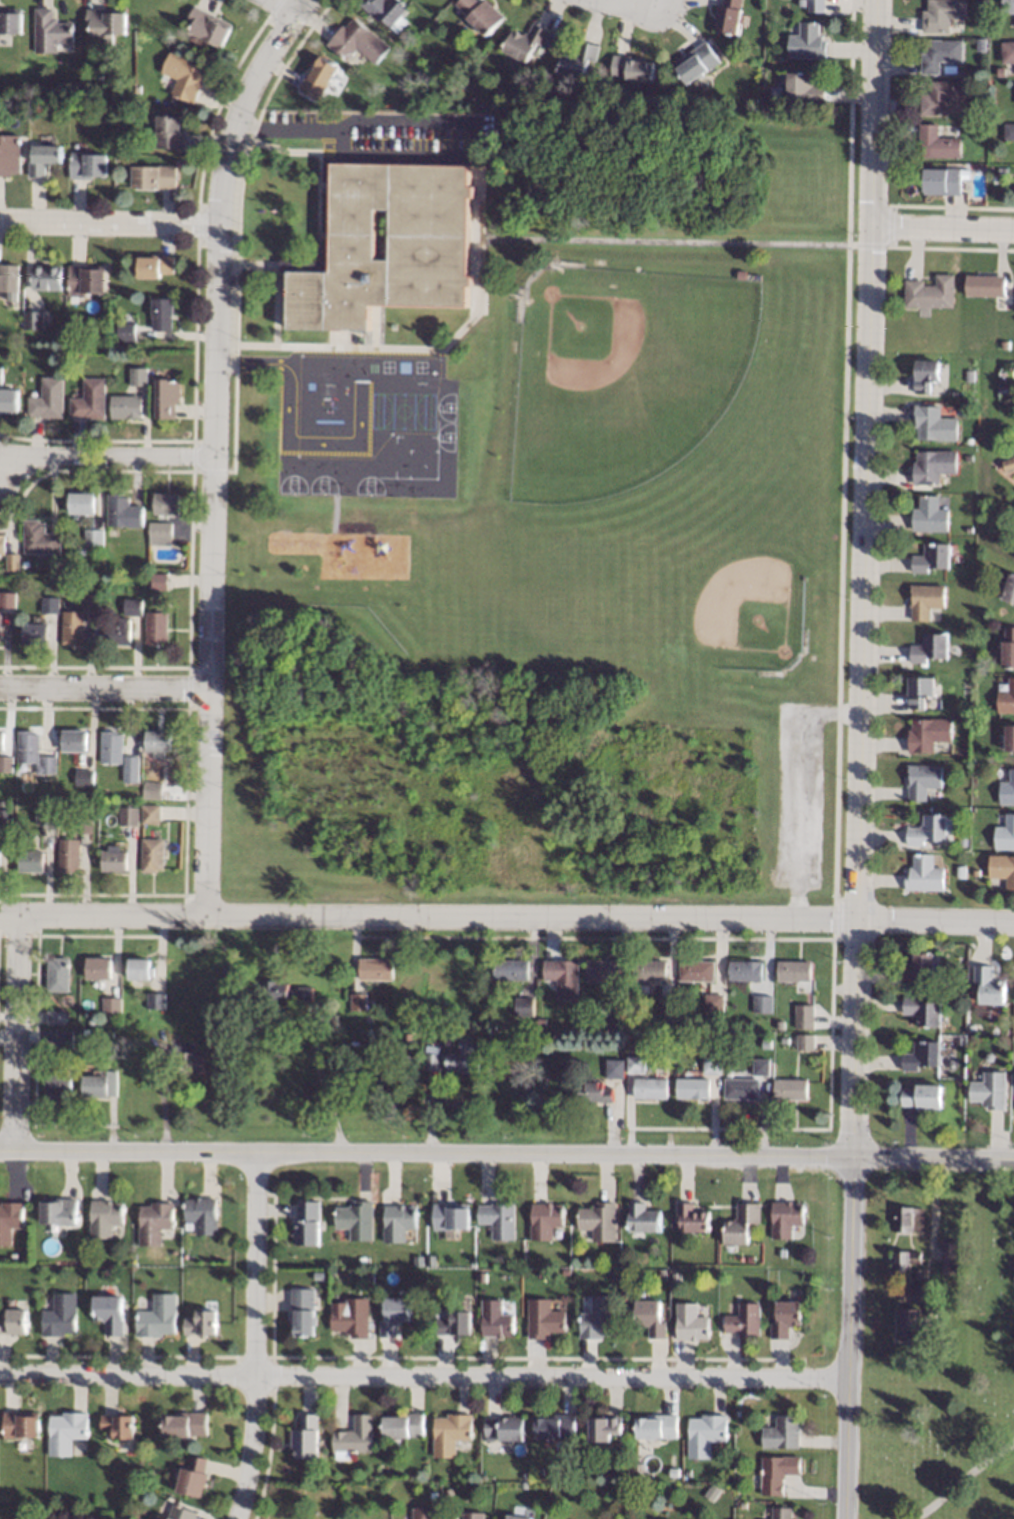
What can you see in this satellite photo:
building: (983, 2)
road: (622, 4)
building: (815, 6)
building: (1008, 6)
road: (284, 8)
building: (387, 11)
building: (479, 14)
building: (941, 14)
building: (728, 16)
building: (10, 20)
building: (106, 22)
building: (208, 26)
building: (994, 30)
building: (49, 31)
building: (357, 42)
building: (524, 42)
building: (806, 42)
building: (984, 51)
building: (1008, 51)
building: (940, 54)
building: (576, 60)
building: (697, 63)
building: (632, 69)
building: (1001, 72)
building: (184, 76)
building: (318, 77)
building: (98, 79)
building: (803, 87)
building: (453, 88)
building: (137, 89)
building: (941, 96)
building: (9, 100)
building: (537, 107)
building: (128, 116)
road: (442, 125)
building: (1009, 131)
building: (170, 132)
building: (937, 143)
building: (10, 155)
building: (43, 158)
building: (138, 158)
building: (87, 165)
building: (1003, 169)
building: (154, 177)
building: (943, 180)
road: (109, 222)
road: (943, 231)
road: (675, 241)
building: (428, 249)
building: (155, 266)
building: (632, 270)
building: (46, 277)
building: (10, 280)
building: (86, 280)
building: (985, 286)
building: (931, 293)
building: (161, 314)
building: (33, 320)
building: (388, 326)
building: (98, 330)
building: (125, 331)
park: (589, 338)
building: (353, 339)
building: (1005, 345)
road: (435, 348)
building: (1, 375)
building: (926, 375)
building: (969, 375)
building: (138, 377)
building: (1002, 380)
building: (1004, 392)
building: (166, 398)
building: (48, 399)
building: (9, 400)
building: (90, 400)
building: (1012, 402)
building: (126, 407)
building: (934, 424)
road: (213, 445)
road: (105, 457)
building: (1008, 463)
building: (933, 466)
building: (81, 503)
building: (166, 504)
building: (122, 512)
building: (930, 515)
building: (970, 528)
building: (159, 533)
building: (93, 537)
building: (38, 538)
building: (1, 544)
building: (998, 547)
building: (932, 557)
building: (99, 560)
building: (11, 562)
building: (24, 564)
road: (864, 576)
building: (159, 581)
building: (1009, 590)
park: (738, 596)
building: (8, 600)
building: (925, 600)
building: (93, 602)
building: (50, 605)
building: (133, 607)
building: (0, 622)
building: (72, 627)
building: (156, 628)
building: (36, 633)
building: (119, 633)
building: (930, 647)
building: (1008, 647)
building: (721, 670)
road: (103, 690)
building: (919, 691)
building: (1006, 697)
building: (927, 734)
building: (1009, 737)
building: (1, 740)
building: (75, 740)
building: (158, 740)
building: (112, 747)
building: (34, 753)
building: (6, 764)
building: (132, 769)
building: (85, 778)
building: (922, 780)
building: (153, 790)
building: (1007, 790)
building: (70, 791)
building: (150, 814)
building: (44, 815)
building: (129, 816)
building: (5, 817)
building: (84, 825)
building: (930, 830)
building: (1005, 833)
building: (963, 840)
building: (68, 855)
building: (152, 855)
building: (115, 860)
building: (31, 861)
building: (1002, 869)
building: (975, 872)
building: (924, 874)
road: (507, 918)
building: (920, 967)
building: (98, 968)
building: (140, 969)
building: (376, 969)
building: (225, 970)
building: (510, 970)
building: (649, 970)
building: (696, 970)
building: (602, 971)
building: (744, 971)
building: (793, 971)
building: (58, 975)
building: (562, 977)
building: (989, 986)
building: (285, 992)
building: (156, 1001)
building: (358, 1002)
building: (713, 1003)
building: (762, 1004)
building: (111, 1005)
building: (666, 1005)
building: (523, 1006)
building: (923, 1011)
building: (615, 1014)
building: (56, 1017)
building: (804, 1017)
building: (322, 1018)
building: (779, 1025)
building: (971, 1028)
building: (86, 1031)
road: (18, 1032)
building: (335, 1032)
building: (109, 1035)
building: (752, 1037)
building: (64, 1038)
building: (407, 1039)
building: (398, 1040)
building: (784, 1040)
building: (804, 1042)
building: (400, 1050)
building: (922, 1055)
building: (990, 1057)
building: (463, 1059)
building: (190, 1060)
building: (432, 1061)
building: (713, 1064)
building: (636, 1065)
building: (762, 1067)
building: (615, 1068)
building: (142, 1079)
building: (100, 1084)
building: (59, 1086)
building: (651, 1088)
building: (694, 1088)
building: (742, 1088)
building: (790, 1089)
building: (990, 1090)
building: (595, 1092)
road: (325, 1095)
building: (922, 1097)
road: (507, 1151)
building: (58, 1211)
building: (201, 1215)
building: (450, 1216)
building: (104, 1218)
building: (785, 1218)
building: (497, 1219)
building: (642, 1219)
building: (691, 1219)
building: (10, 1220)
building: (355, 1220)
building: (545, 1220)
building: (907, 1220)
building: (598, 1221)
building: (397, 1222)
building: (154, 1223)
building: (306, 1223)
building: (741, 1224)
building: (953, 1257)
building: (749, 1259)
building: (905, 1259)
building: (361, 1260)
building: (615, 1262)
building: (615, 1276)
building: (661, 1277)
building: (676, 1278)
building: (369, 1279)
building: (913, 1293)
building: (10, 1302)
building: (930, 1309)
building: (302, 1311)
building: (940, 1311)
building: (109, 1313)
building: (439, 1314)
building: (59, 1315)
building: (393, 1316)
building: (157, 1317)
building: (350, 1317)
building: (649, 1318)
building: (784, 1318)
building: (543, 1319)
building: (597, 1319)
building: (495, 1320)
building: (744, 1321)
building: (14, 1322)
building: (690, 1322)
building: (201, 1323)
building: (909, 1323)
building: (454, 1324)
road: (255, 1335)
road: (848, 1336)
road: (272, 1356)
road: (400, 1357)
road: (424, 1375)
park: (949, 1387)
building: (20, 1424)
building: (185, 1424)
building: (117, 1425)
building: (402, 1426)
building: (554, 1426)
building: (656, 1427)
building: (505, 1428)
building: (604, 1428)
building: (65, 1432)
building: (780, 1433)
building: (450, 1434)
building: (704, 1434)
building: (305, 1437)
building: (353, 1437)
building: (540, 1471)
building: (776, 1473)
building: (193, 1477)
building: (448, 1491)
building: (711, 1493)
building: (433, 1496)
building: (742, 1505)
building: (423, 1512)
building: (181, 1513)
building: (780, 1513)
building: (472, 1515)
building: (515, 1517)

